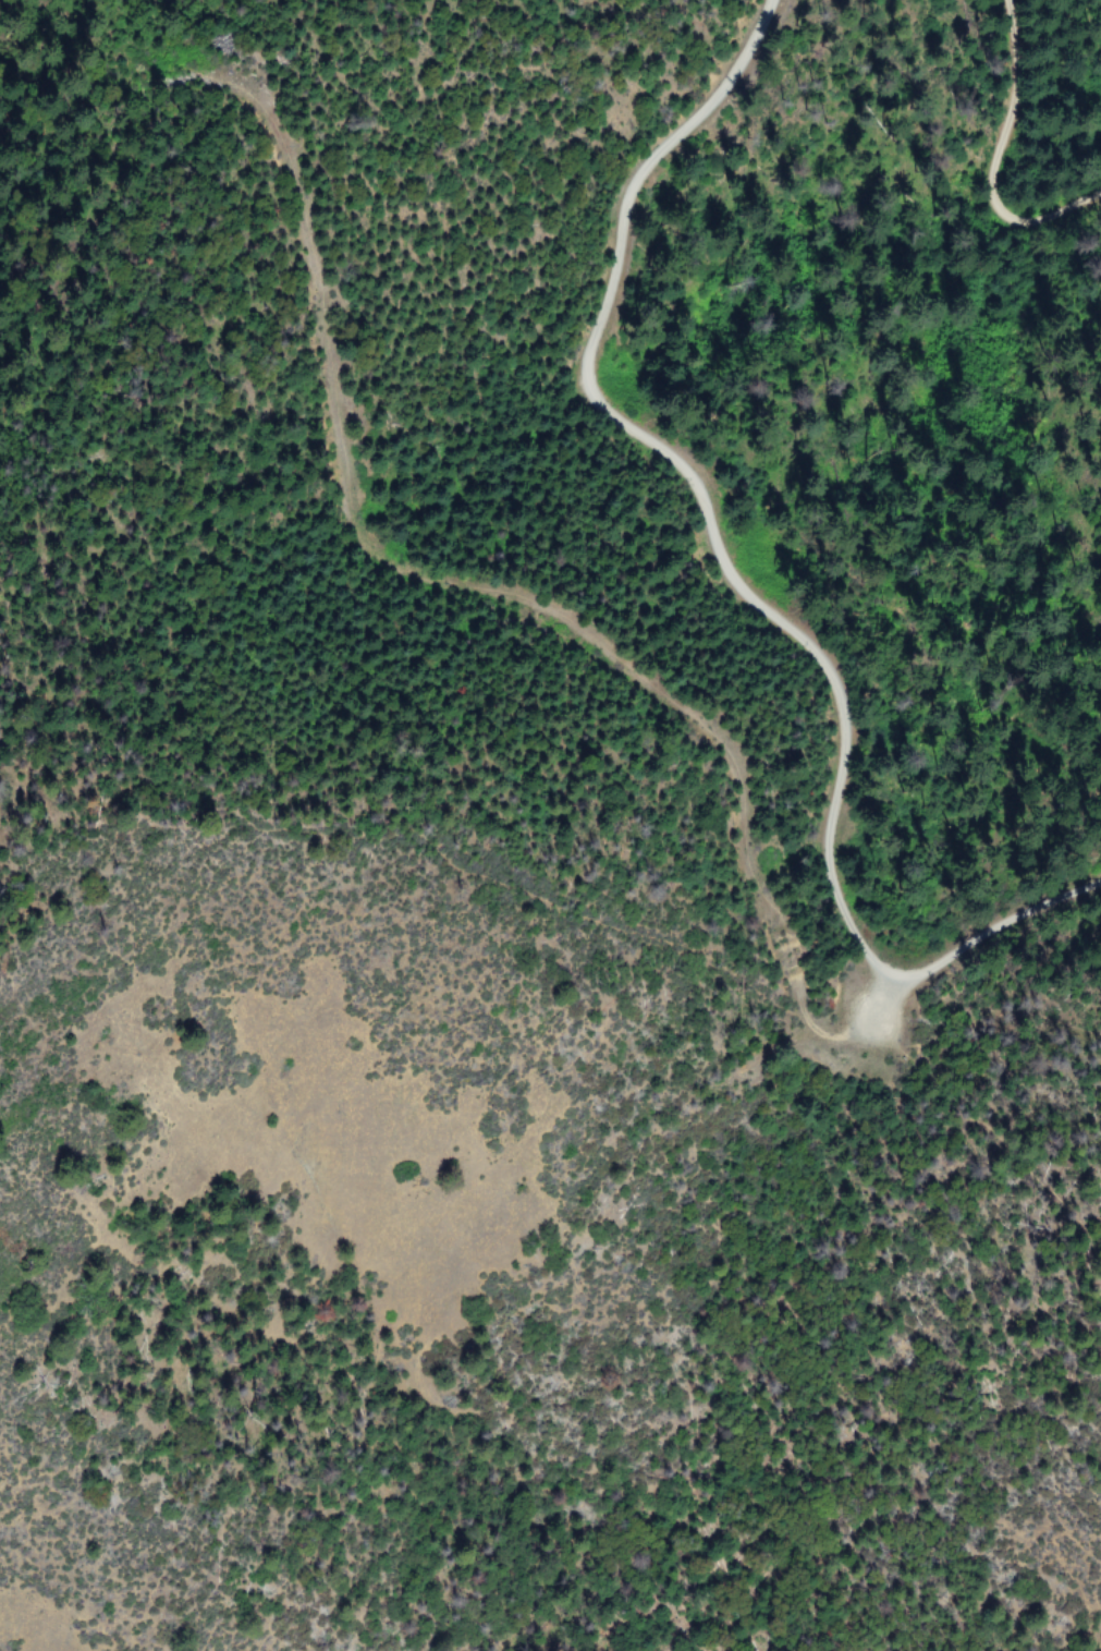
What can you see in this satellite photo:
road: (739, 584)
parking lot: (869, 1003)
road: (971, 1114)

